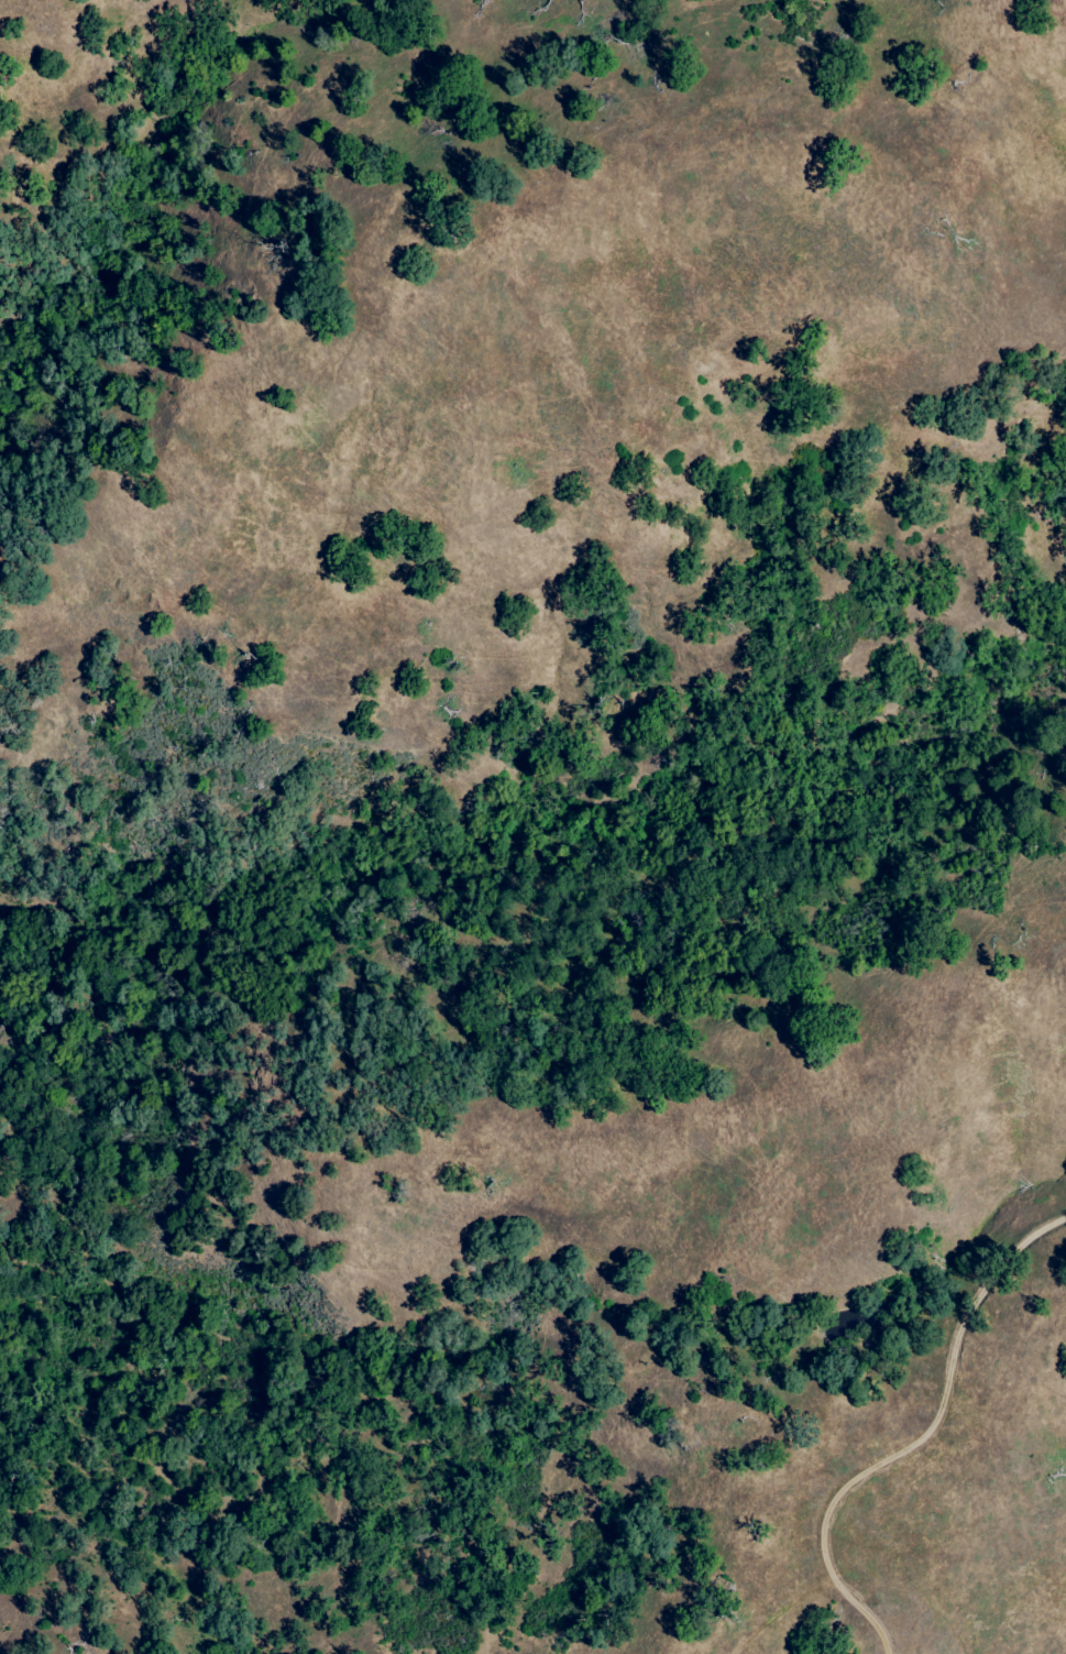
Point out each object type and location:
road: (942, 1405)
road: (821, 1595)

